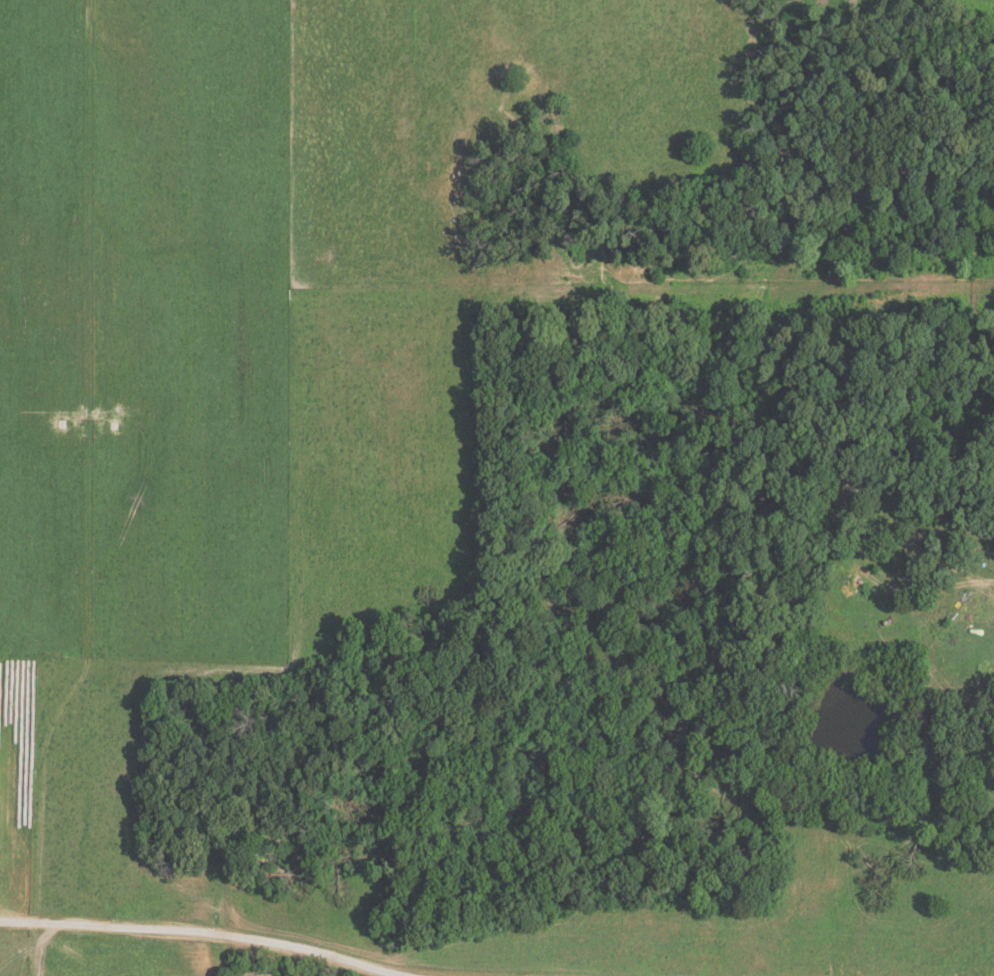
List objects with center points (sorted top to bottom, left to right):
road: (948, 582)
road: (215, 936)

